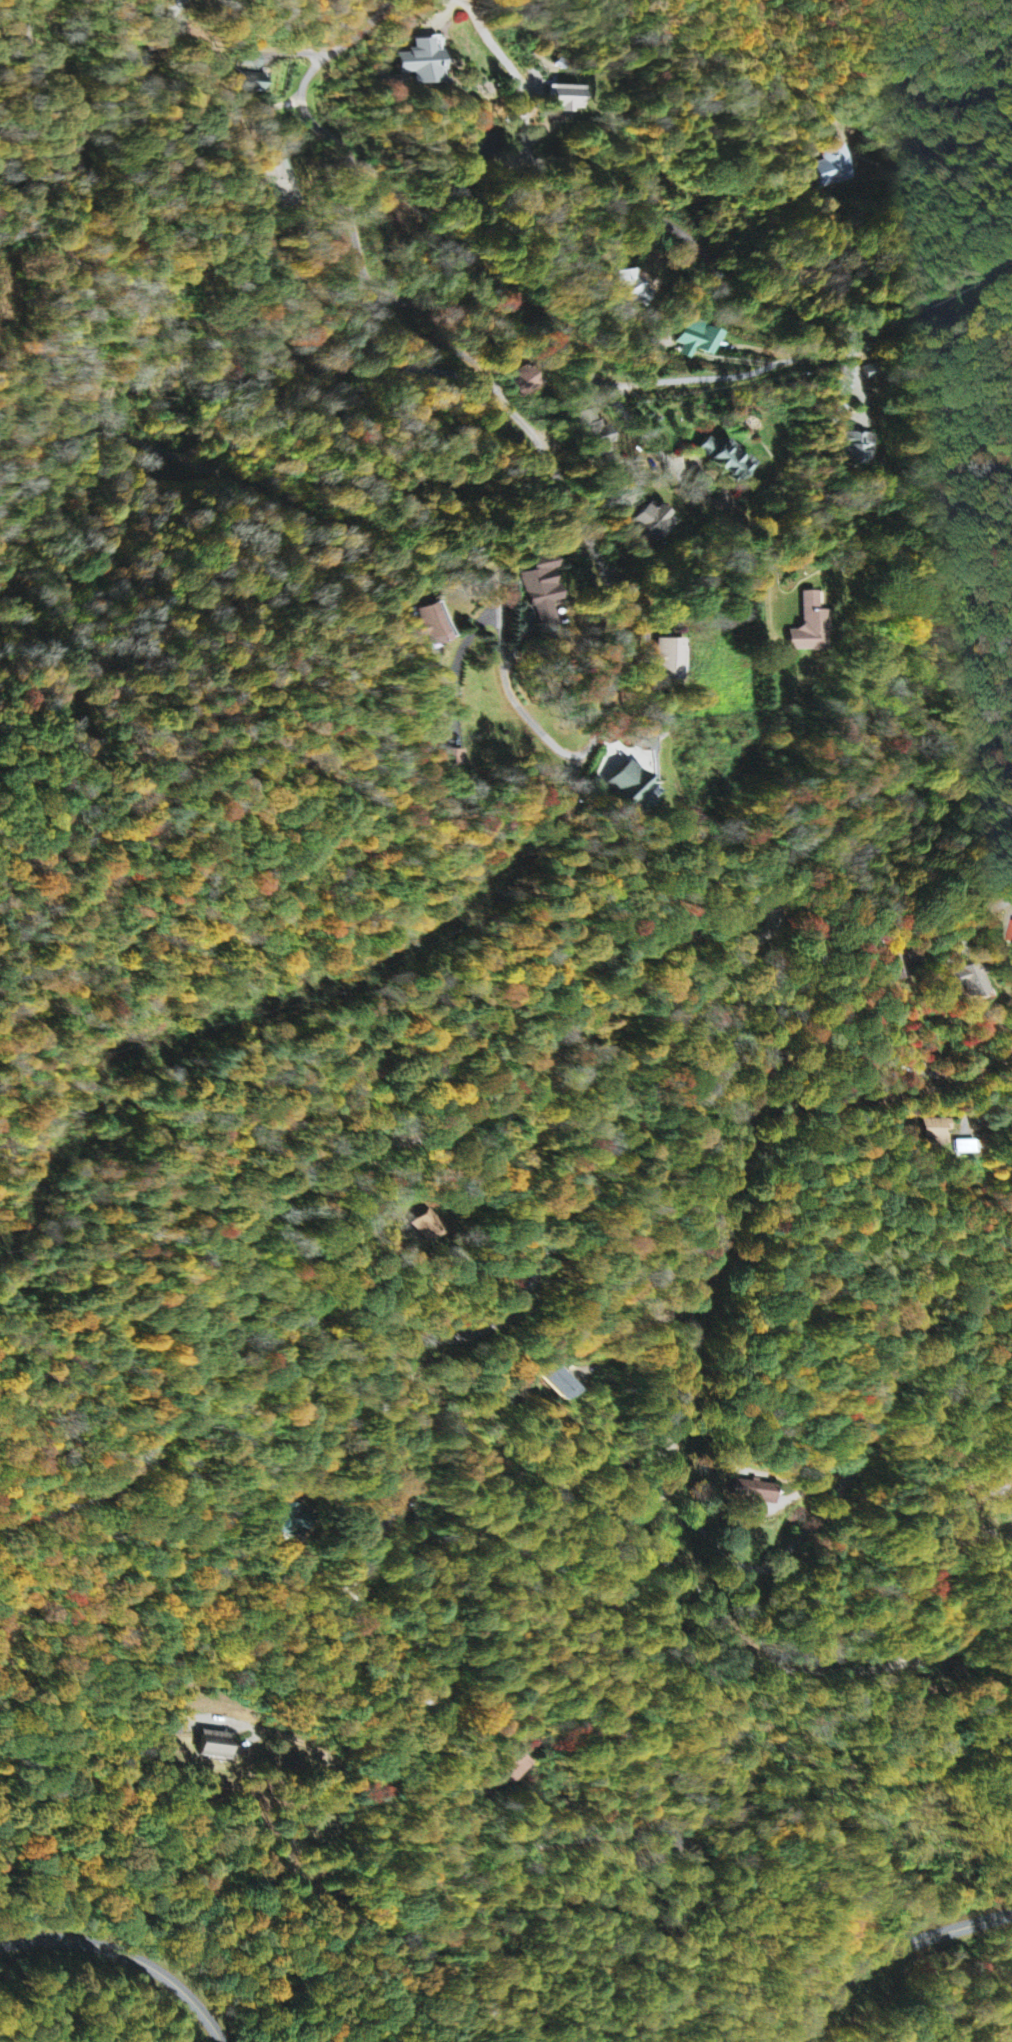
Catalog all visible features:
building: (424, 62)
road: (799, 89)
building: (563, 99)
road: (126, 141)
road: (326, 143)
building: (834, 167)
road: (576, 208)
building: (699, 341)
road: (692, 378)
building: (856, 448)
road: (666, 454)
building: (726, 458)
road: (770, 550)
building: (543, 590)
building: (811, 625)
building: (669, 660)
road: (513, 687)
building: (629, 789)
building: (970, 981)
road: (669, 998)
road: (878, 1018)
building: (938, 1131)
building: (562, 1383)
road: (974, 1488)
building: (752, 1492)
road: (625, 1552)
road: (838, 1669)
building: (212, 1746)
building: (513, 1767)
road: (129, 1953)
road: (888, 1953)

